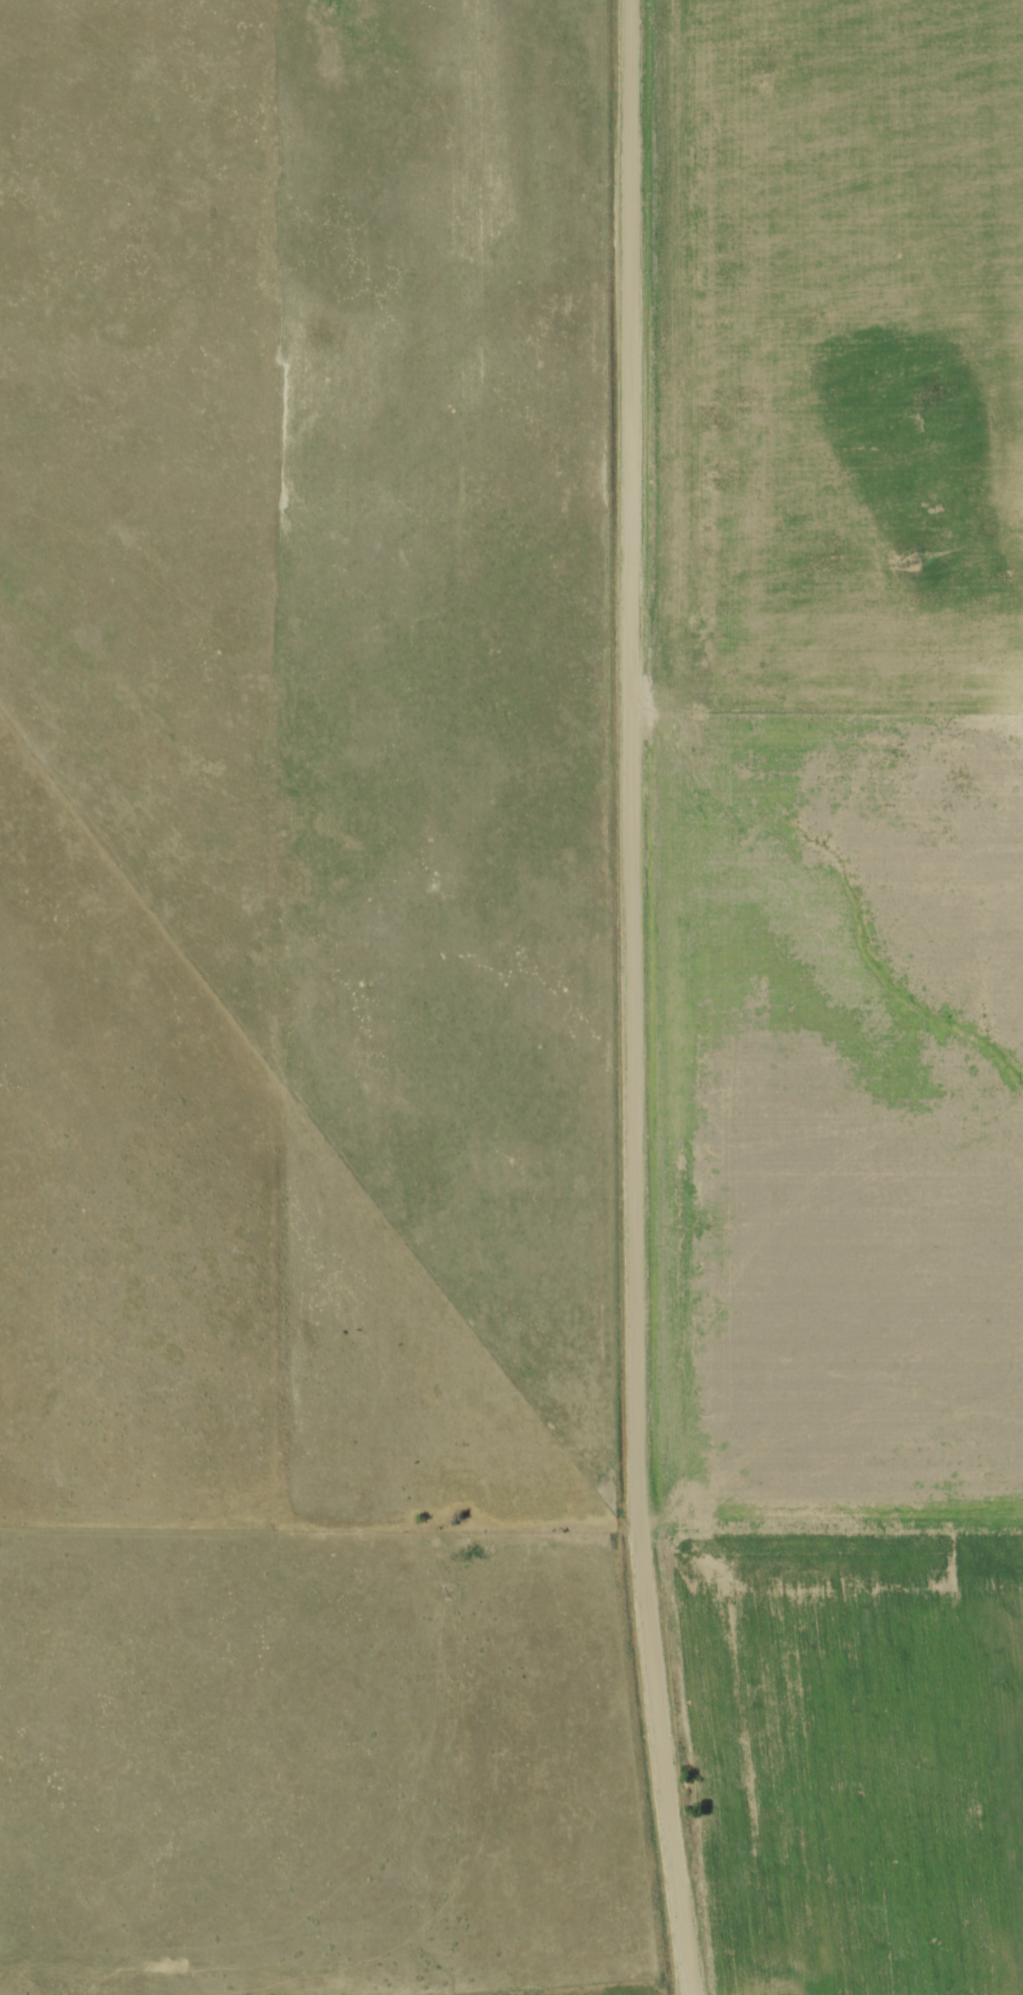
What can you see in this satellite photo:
road: (634, 998)

